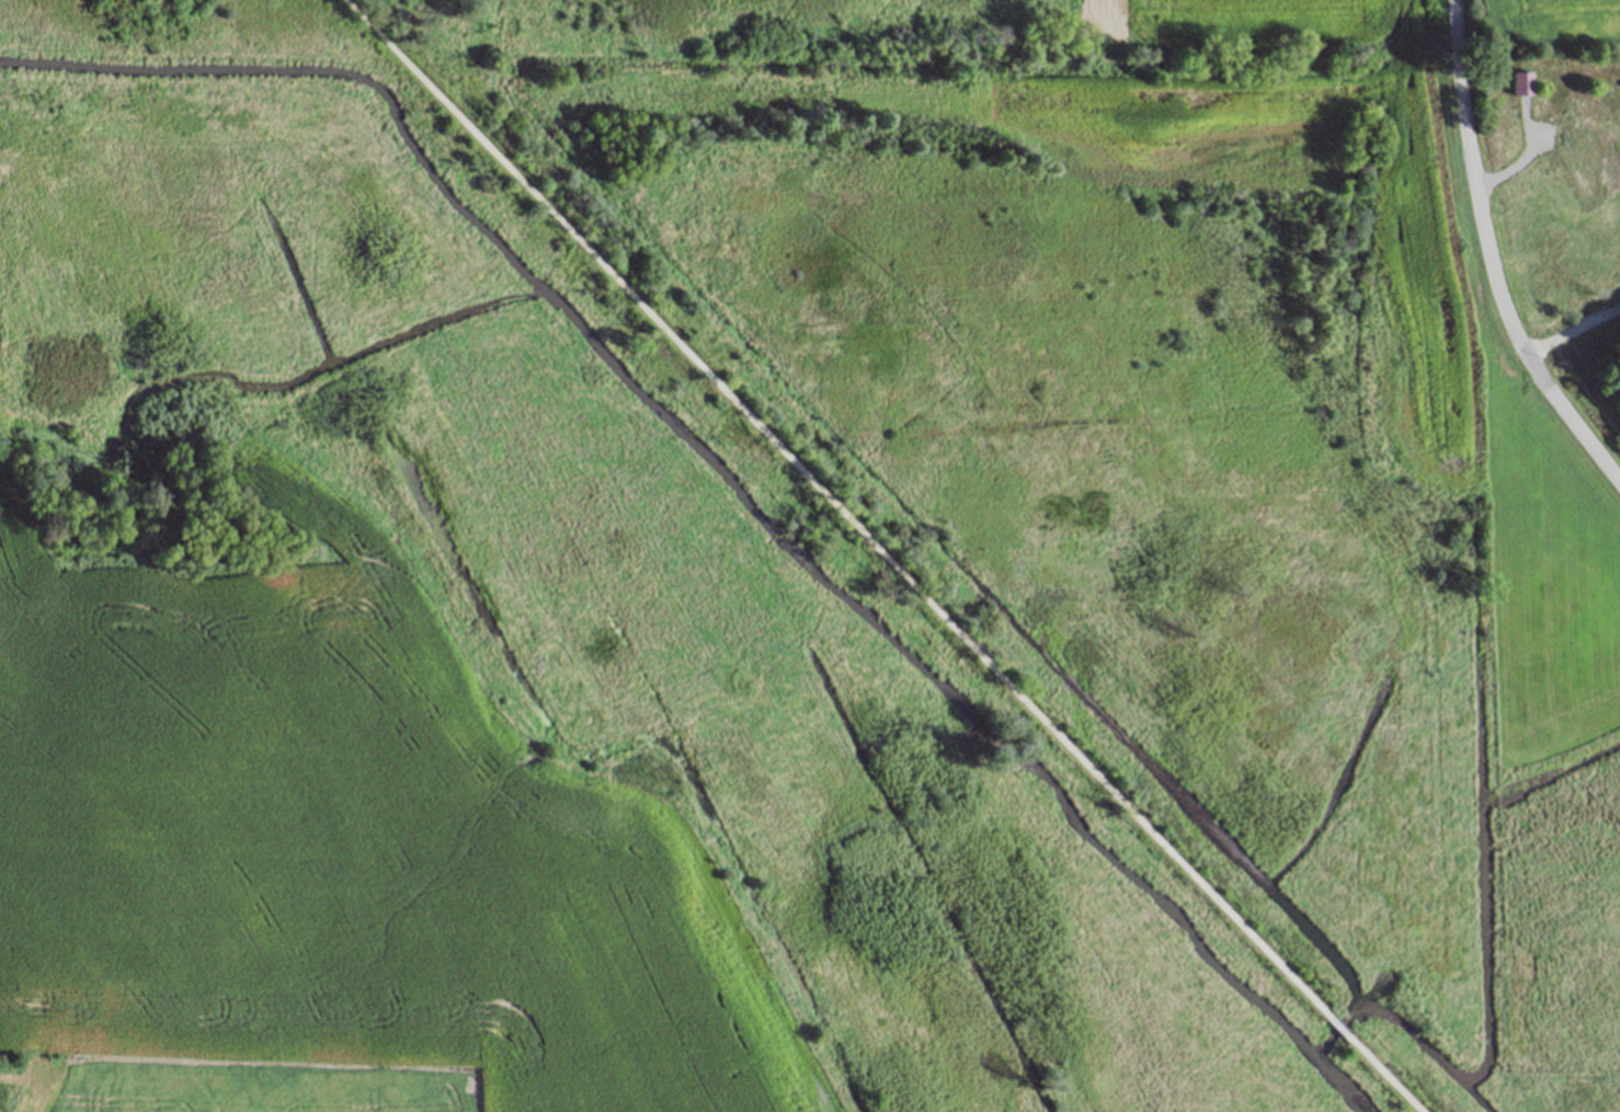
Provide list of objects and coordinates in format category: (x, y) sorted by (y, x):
building: (1521, 85)
building: (1579, 153)
road: (1519, 172)
road: (1491, 261)
road: (1573, 340)
road: (833, 508)
crop: (342, 842)
road: (1338, 1028)
road: (1383, 1076)

